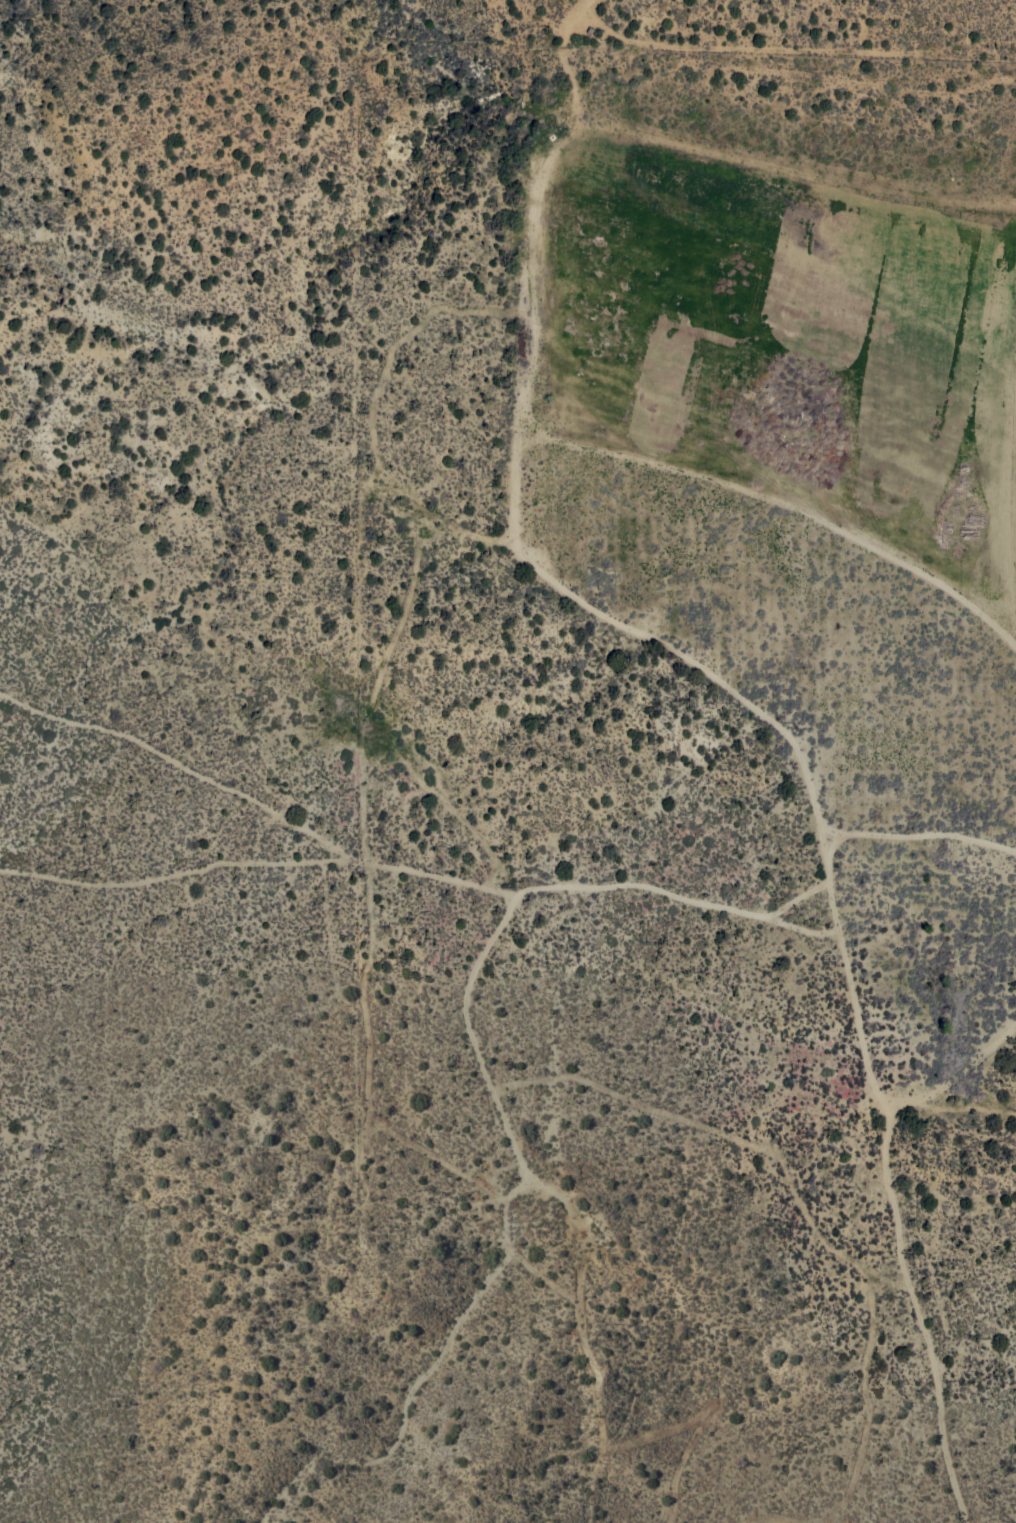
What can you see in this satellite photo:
crop: (812, 518)

